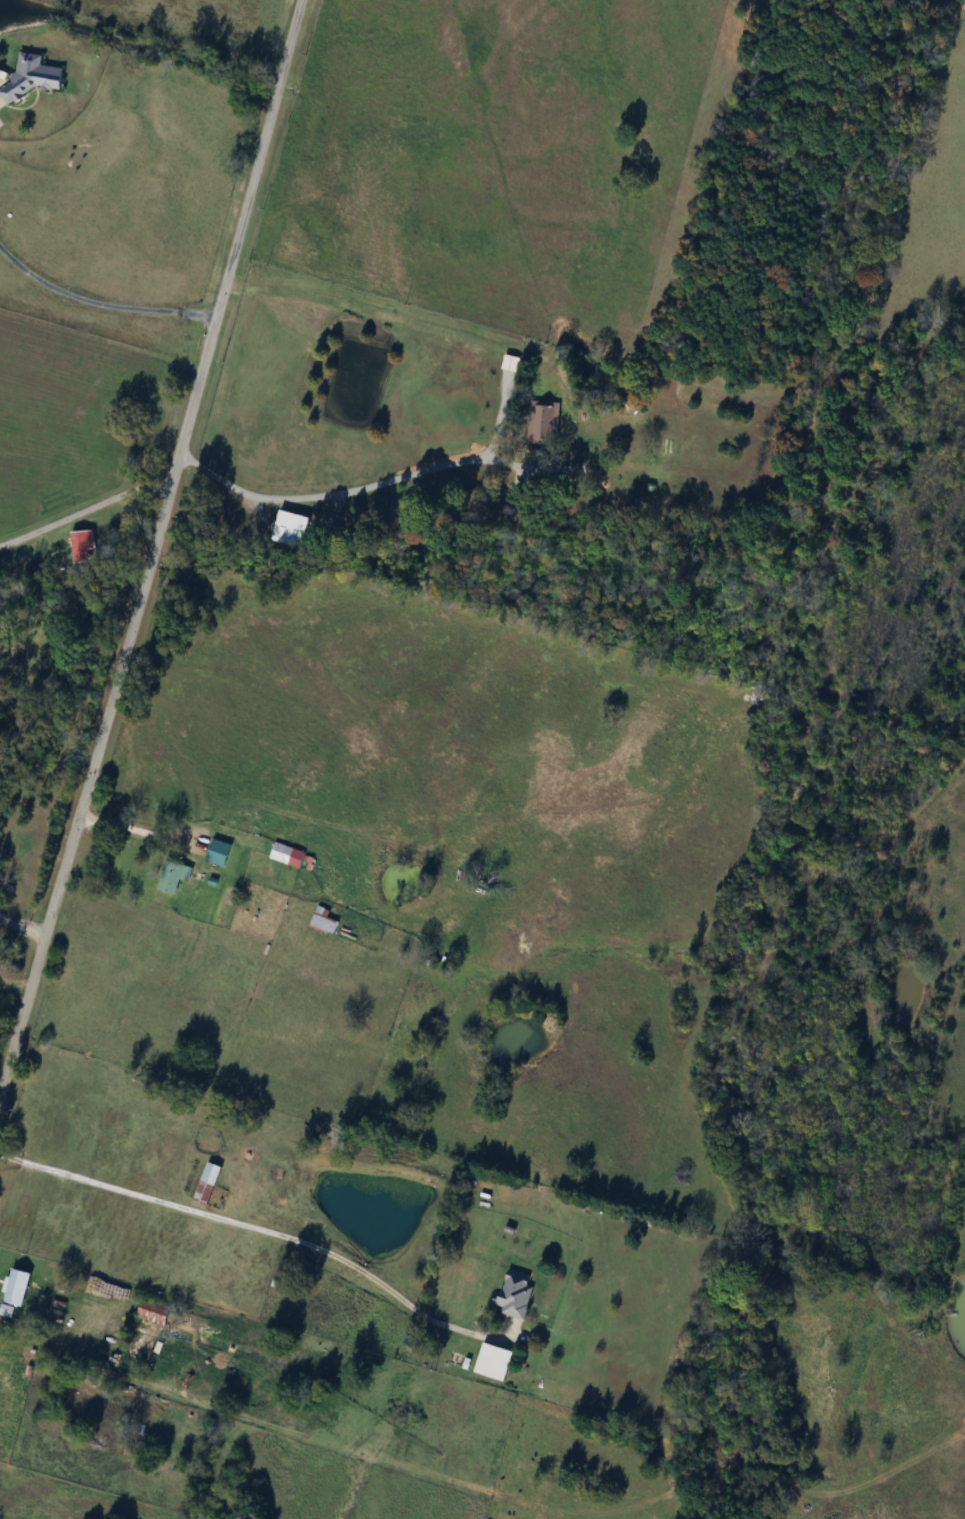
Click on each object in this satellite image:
building: (32, 76)
road: (97, 301)
building: (510, 363)
building: (542, 421)
road: (368, 485)
road: (85, 508)
building: (293, 528)
road: (149, 537)
road: (130, 829)
building: (220, 853)
building: (288, 855)
building: (173, 877)
building: (326, 921)
road: (19, 929)
building: (209, 1182)
road: (208, 1216)
building: (17, 1286)
building: (515, 1294)
building: (154, 1312)
building: (494, 1362)

